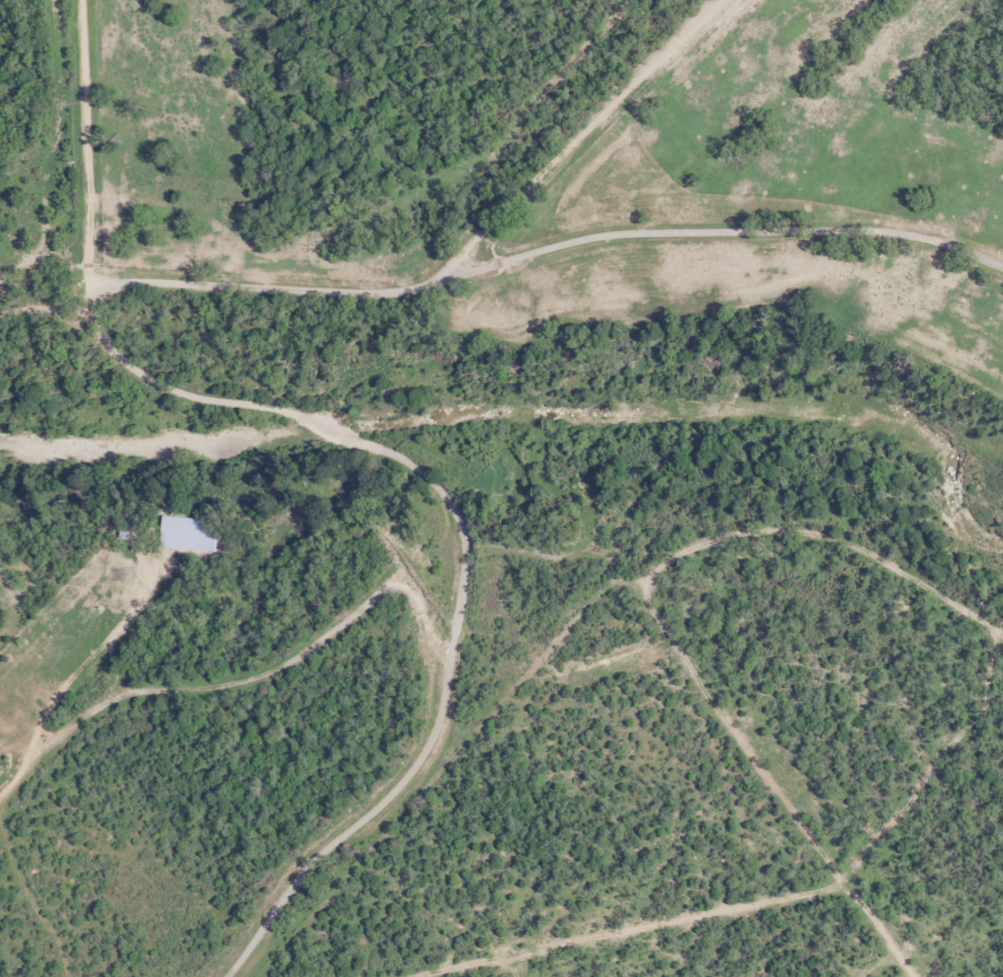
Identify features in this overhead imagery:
road: (695, 128)
road: (482, 235)
road: (799, 265)
road: (530, 283)
river: (486, 419)
road: (553, 499)
building: (192, 533)
river: (973, 538)

